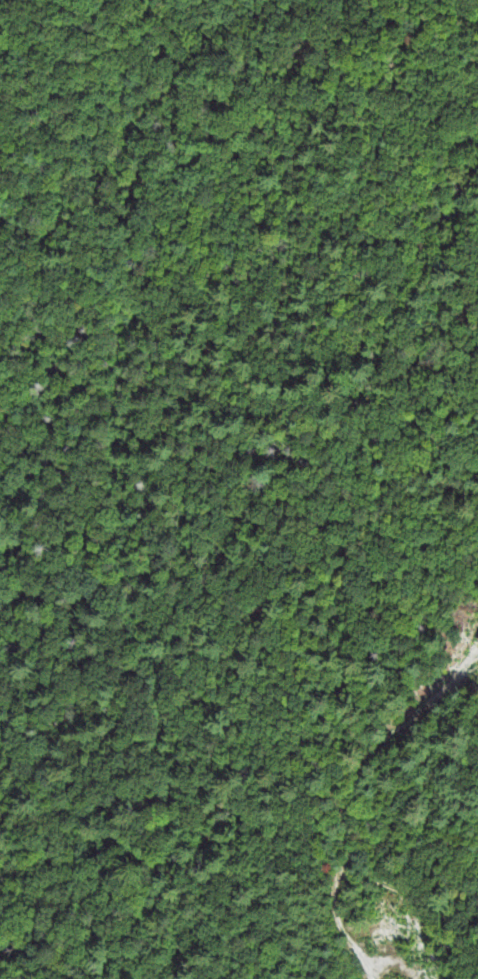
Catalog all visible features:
building: (477, 642)
road: (346, 805)

